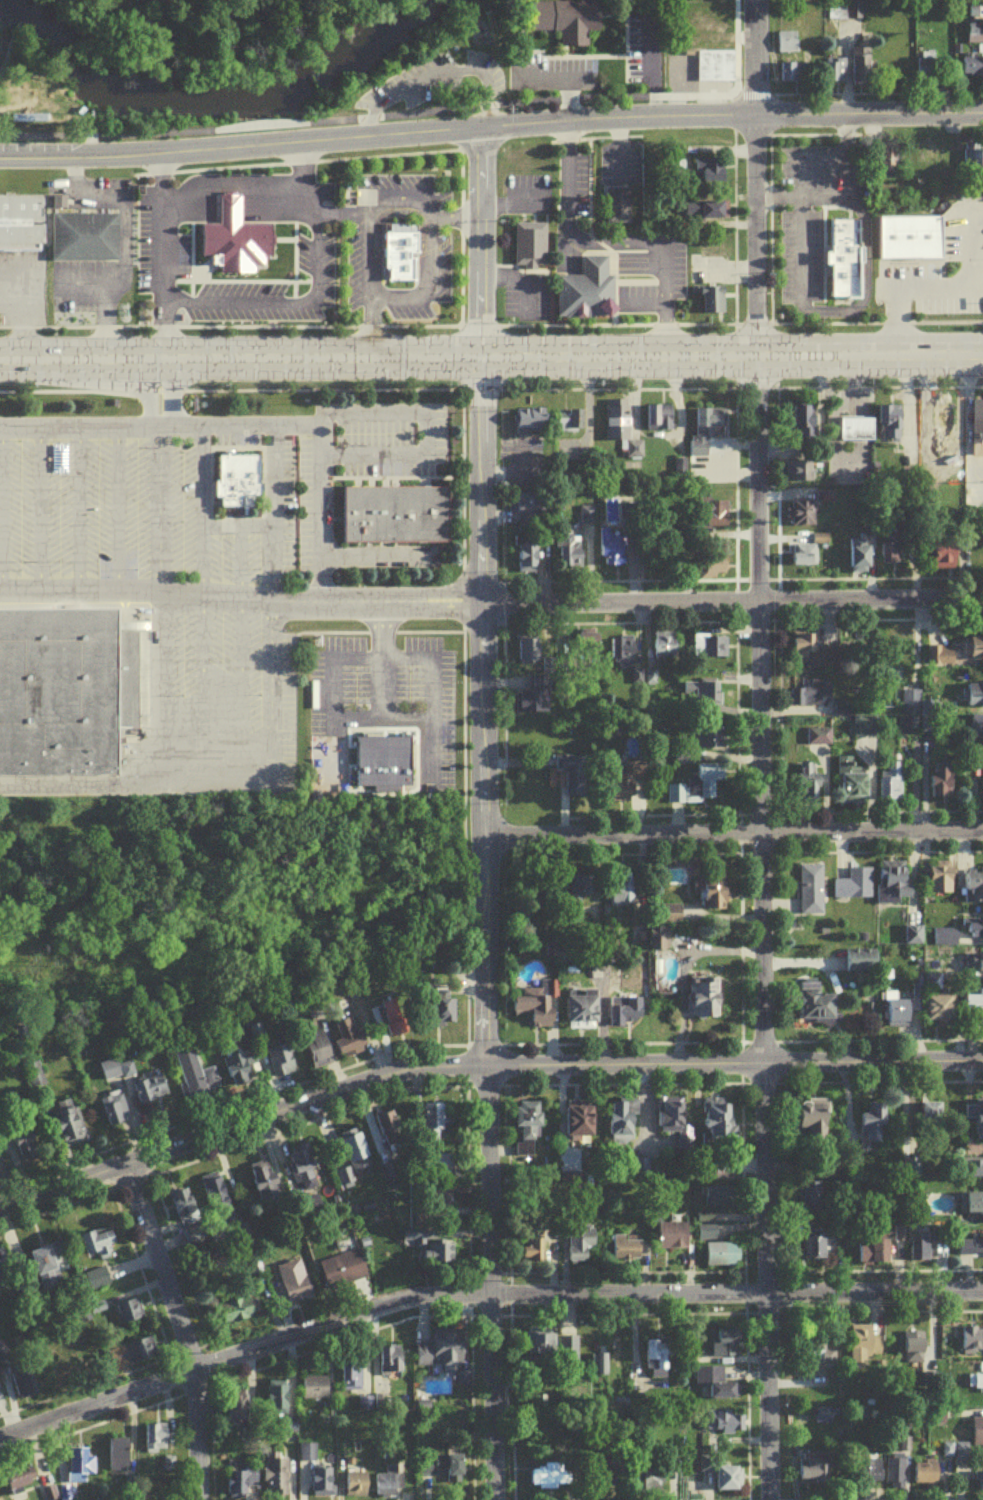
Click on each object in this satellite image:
building: (714, 1)
building: (972, 9)
road: (982, 10)
building: (976, 17)
building: (563, 18)
building: (844, 20)
road: (205, 25)
building: (709, 25)
building: (973, 31)
road: (619, 35)
building: (783, 39)
building: (977, 46)
road: (979, 46)
parking lot: (637, 50)
road: (574, 54)
building: (856, 62)
building: (711, 63)
building: (919, 64)
building: (969, 64)
road: (646, 65)
road: (432, 70)
parking lot: (542, 70)
parking lot: (676, 70)
building: (789, 70)
building: (826, 71)
road: (839, 73)
building: (836, 74)
road: (543, 77)
parking lot: (423, 78)
building: (926, 78)
road: (670, 81)
road: (938, 83)
road: (873, 90)
road: (562, 98)
river: (216, 101)
road: (854, 110)
road: (414, 112)
building: (25, 114)
road: (643, 114)
road: (838, 132)
road: (801, 133)
road: (581, 136)
road: (280, 141)
road: (619, 144)
road: (570, 149)
road: (738, 149)
road: (793, 153)
building: (971, 156)
road: (291, 160)
road: (722, 164)
building: (705, 168)
road: (583, 177)
road: (296, 179)
road: (749, 180)
road: (226, 187)
road: (739, 194)
road: (757, 196)
road: (779, 196)
road: (816, 196)
building: (614, 202)
road: (726, 203)
road: (364, 208)
building: (711, 208)
road: (398, 216)
road: (452, 216)
road: (765, 216)
road: (728, 217)
building: (20, 221)
road: (730, 223)
building: (231, 232)
road: (455, 232)
building: (906, 234)
building: (81, 235)
road: (118, 241)
road: (474, 242)
building: (527, 242)
road: (611, 242)
road: (793, 248)
building: (397, 251)
road: (159, 256)
building: (840, 257)
parking lot: (707, 267)
road: (719, 268)
road: (860, 282)
road: (429, 285)
building: (690, 286)
road: (937, 287)
building: (583, 290)
road: (724, 293)
building: (708, 296)
road: (307, 301)
building: (714, 304)
road: (453, 321)
road: (873, 321)
road: (610, 322)
road: (225, 324)
road: (471, 324)
road: (369, 329)
road: (937, 357)
road: (445, 361)
road: (753, 373)
road: (871, 385)
road: (750, 386)
road: (475, 387)
road: (618, 387)
road: (316, 388)
road: (60, 389)
road: (848, 390)
road: (149, 392)
road: (847, 402)
road: (852, 402)
road: (671, 406)
road: (900, 407)
road: (581, 414)
building: (656, 414)
building: (612, 416)
building: (938, 417)
building: (526, 418)
building: (974, 418)
building: (799, 419)
road: (961, 419)
building: (885, 420)
building: (564, 421)
road: (917, 421)
road: (77, 426)
building: (852, 426)
building: (946, 426)
road: (321, 429)
building: (700, 429)
road: (426, 434)
road: (847, 435)
road: (857, 435)
building: (629, 446)
road: (826, 446)
road: (233, 447)
road: (777, 451)
building: (811, 452)
road: (853, 461)
building: (676, 463)
building: (791, 467)
building: (801, 475)
building: (233, 476)
road: (274, 477)
road: (771, 484)
building: (817, 491)
road: (779, 493)
parking lot: (235, 498)
parking lot: (82, 499)
building: (796, 509)
road: (32, 510)
road: (72, 510)
road: (110, 510)
road: (193, 512)
building: (392, 512)
building: (714, 513)
building: (531, 515)
building: (805, 517)
building: (588, 519)
building: (955, 520)
road: (230, 522)
road: (778, 536)
building: (812, 536)
building: (605, 545)
building: (885, 546)
building: (942, 550)
building: (853, 551)
building: (793, 552)
road: (158, 555)
building: (572, 557)
building: (862, 557)
building: (893, 558)
building: (530, 559)
building: (804, 559)
road: (233, 560)
road: (955, 561)
road: (908, 566)
road: (626, 570)
road: (872, 576)
road: (863, 581)
road: (729, 598)
road: (237, 599)
road: (374, 630)
building: (591, 648)
building: (666, 650)
building: (711, 650)
building: (902, 651)
building: (812, 652)
building: (976, 654)
building: (624, 655)
building: (531, 657)
building: (941, 660)
building: (62, 688)
road: (266, 688)
building: (973, 691)
building: (700, 695)
building: (813, 697)
building: (531, 707)
building: (909, 707)
parking lot: (373, 715)
building: (974, 720)
building: (977, 729)
building: (906, 730)
building: (864, 731)
building: (819, 740)
building: (710, 742)
building: (378, 760)
building: (968, 767)
building: (980, 772)
building: (575, 780)
building: (886, 780)
building: (937, 780)
building: (851, 783)
building: (808, 787)
building: (698, 791)
building: (628, 793)
road: (92, 794)
road: (875, 810)
road: (751, 811)
road: (457, 837)
road: (732, 837)
road: (876, 850)
building: (669, 881)
building: (941, 883)
building: (894, 886)
building: (855, 889)
building: (974, 892)
building: (581, 893)
building: (812, 894)
building: (622, 895)
building: (716, 896)
building: (668, 918)
road: (482, 930)
building: (972, 933)
road: (761, 942)
building: (659, 943)
building: (864, 965)
building: (976, 967)
building: (665, 978)
building: (705, 1002)
building: (975, 1006)
building: (537, 1009)
building: (817, 1009)
building: (941, 1012)
building: (584, 1015)
building: (627, 1015)
building: (442, 1016)
building: (897, 1016)
building: (393, 1020)
road: (876, 1038)
building: (349, 1041)
building: (318, 1053)
building: (281, 1064)
road: (480, 1065)
building: (241, 1072)
building: (194, 1075)
building: (35, 1080)
building: (151, 1094)
building: (115, 1114)
building: (873, 1119)
building: (932, 1120)
building: (975, 1121)
building: (718, 1123)
building: (581, 1124)
building: (674, 1124)
building: (436, 1125)
building: (624, 1125)
building: (813, 1125)
building: (70, 1127)
building: (529, 1128)
building: (391, 1133)
building: (354, 1161)
building: (980, 1173)
building: (304, 1175)
building: (265, 1185)
building: (217, 1200)
building: (722, 1200)
building: (441, 1201)
building: (813, 1202)
building: (973, 1210)
building: (185, 1212)
building: (707, 1237)
building: (897, 1237)
building: (674, 1241)
building: (99, 1247)
building: (580, 1249)
building: (813, 1250)
building: (970, 1251)
building: (627, 1252)
building: (532, 1255)
building: (918, 1255)
building: (874, 1256)
building: (440, 1259)
building: (722, 1259)
building: (45, 1271)
building: (343, 1273)
building: (4, 1277)
building: (98, 1284)
building: (294, 1285)
road: (480, 1297)
building: (236, 1315)
building: (130, 1316)
road: (179, 1329)
building: (971, 1345)
building: (540, 1347)
building: (720, 1348)
building: (863, 1352)
building: (442, 1353)
building: (569, 1355)
building: (913, 1355)
building: (132, 1359)
building: (820, 1360)
building: (656, 1364)
building: (389, 1365)
building: (599, 1368)
building: (351, 1379)
building: (27, 1387)
building: (714, 1388)
building: (315, 1393)
building: (278, 1403)
building: (236, 1411)
building: (726, 1427)
building: (976, 1435)
building: (156, 1441)
building: (306, 1457)
building: (119, 1459)
building: (80, 1469)
building: (430, 1470)
building: (455, 1473)
building: (811, 1475)
building: (868, 1476)
building: (893, 1476)
building: (924, 1476)
building: (20, 1482)
building: (275, 1482)
building: (545, 1483)
building: (241, 1484)
building: (980, 1484)
building: (389, 1485)
building: (726, 1485)
building: (322, 1486)
building: (653, 1487)
building: (356, 1489)

